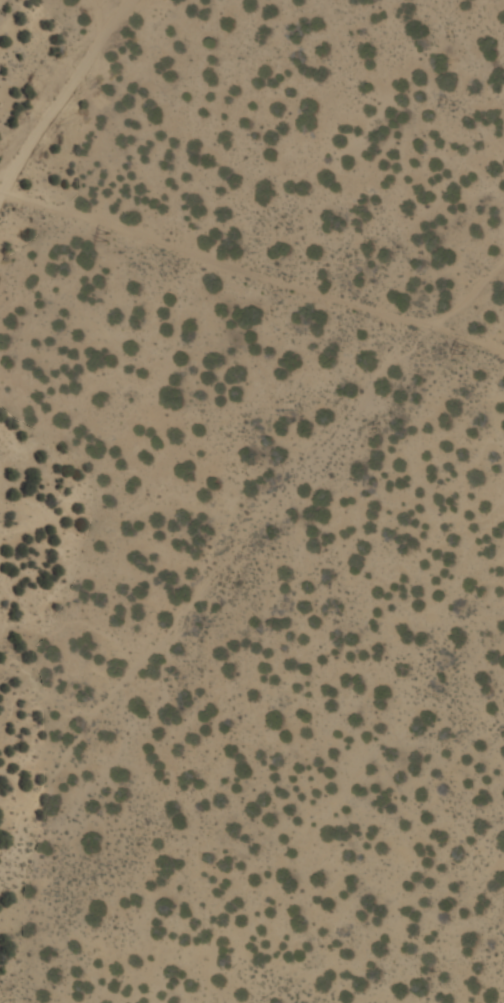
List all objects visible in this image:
power tower: (109, 233)
power tower: (463, 349)

